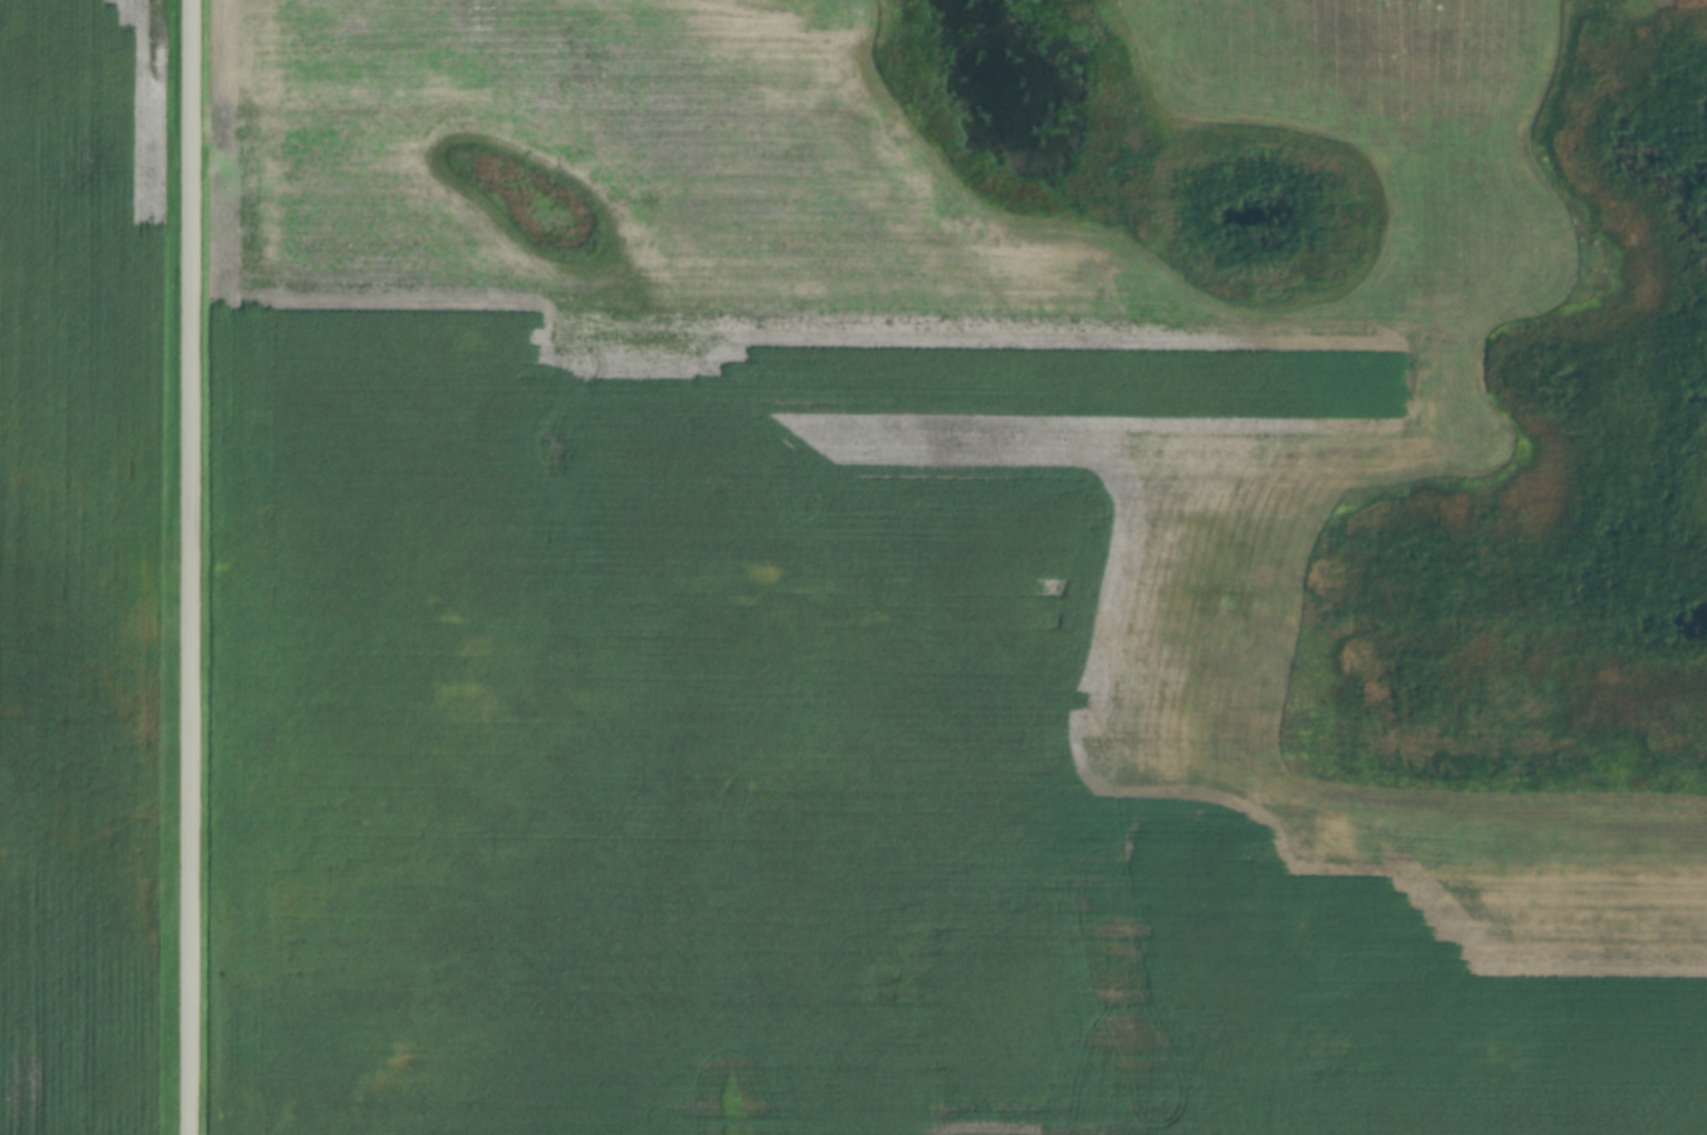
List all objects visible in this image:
road: (194, 567)

